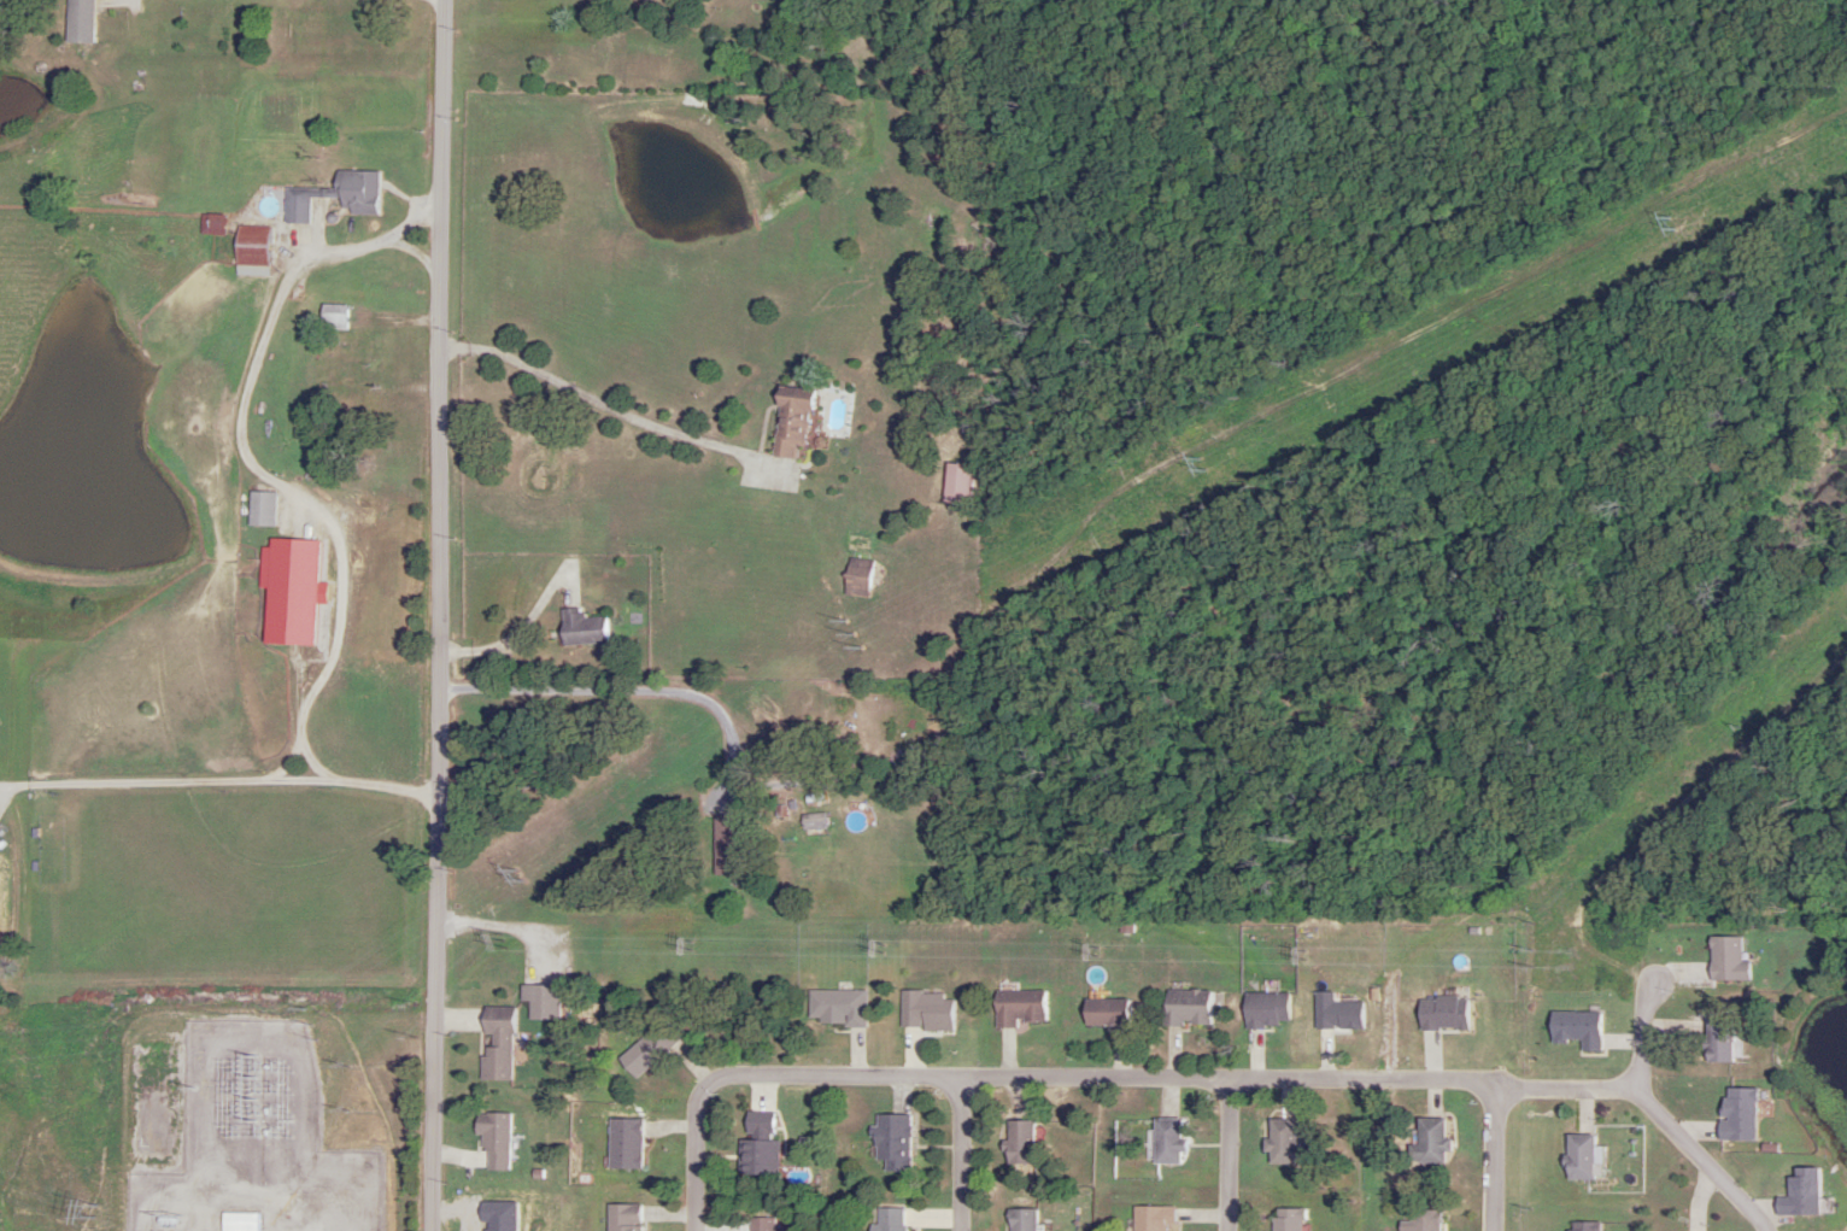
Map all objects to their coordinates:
building: (77, 20)
building: (335, 197)
building: (250, 252)
building: (332, 318)
building: (373, 352)
road: (604, 405)
building: (787, 423)
building: (954, 486)
building: (259, 510)
building: (855, 580)
road: (439, 615)
road: (278, 627)
building: (581, 629)
road: (512, 645)
road: (305, 675)
road: (622, 687)
road: (163, 782)
building: (811, 822)
building: (725, 846)
power tower: (1302, 955)
building: (532, 995)
building: (835, 1007)
building: (1019, 1008)
building: (1186, 1008)
building: (925, 1012)
building: (1104, 1012)
building: (1717, 1038)
building: (496, 1043)
building: (647, 1049)
road: (747, 1073)
road: (903, 1073)
road: (1230, 1077)
road: (1562, 1086)
road: (522, 1106)
road: (1659, 1116)
building: (757, 1122)
power substation: (242, 1132)
building: (492, 1138)
building: (1018, 1141)
building: (1166, 1141)
building: (1279, 1141)
building: (891, 1142)
building: (1427, 1142)
road: (961, 1151)
road: (1226, 1154)
building: (1578, 1156)
building: (757, 1157)
road: (1495, 1159)
road: (694, 1182)
building: (1150, 1218)
building: (889, 1219)
building: (1019, 1219)
building: (1285, 1219)
building: (1420, 1220)
building: (240, 1221)
building: (761, 1224)

